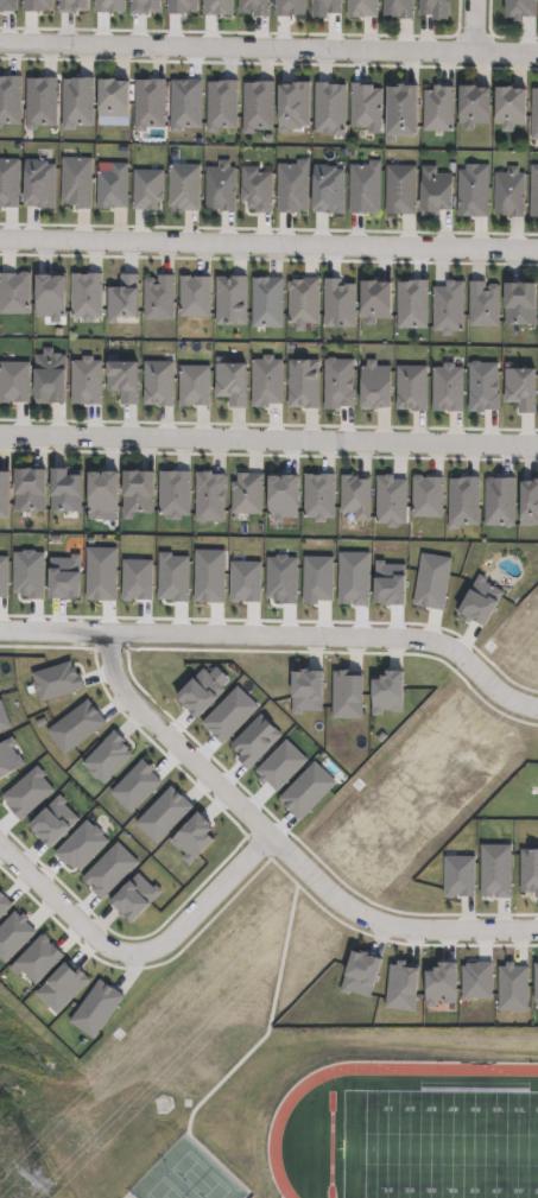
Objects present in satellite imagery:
building: (7, 5)
building: (179, 6)
building: (254, 6)
building: (287, 7)
building: (325, 7)
building: (362, 7)
building: (398, 8)
building: (435, 8)
building: (521, 8)
road: (475, 26)
road: (268, 49)
building: (114, 97)
building: (475, 104)
building: (365, 106)
building: (439, 107)
building: (512, 107)
building: (329, 108)
building: (403, 110)
building: (534, 110)
building: (112, 185)
building: (220, 185)
building: (184, 186)
building: (147, 188)
building: (254, 188)
building: (400, 189)
building: (473, 189)
building: (433, 190)
building: (509, 191)
road: (268, 246)
building: (50, 297)
building: (86, 297)
building: (195, 297)
building: (122, 299)
building: (230, 300)
building: (306, 300)
building: (378, 300)
building: (270, 302)
building: (520, 303)
building: (411, 304)
building: (482, 305)
building: (448, 308)
building: (51, 378)
building: (86, 381)
building: (122, 381)
building: (14, 382)
building: (158, 382)
building: (230, 382)
building: (194, 385)
road: (268, 440)
building: (30, 487)
building: (137, 492)
building: (67, 493)
building: (249, 493)
building: (102, 495)
building: (175, 495)
building: (359, 495)
building: (4, 496)
building: (209, 496)
building: (283, 496)
road: (279, 642)
building: (56, 680)
building: (74, 725)
building: (107, 756)
building: (134, 785)
building: (163, 813)
building: (192, 837)
road: (281, 854)
road: (138, 957)
track: (411, 1135)
park: (439, 1145)
park: (197, 1170)
park: (157, 1184)
power tower: (39, 1186)

